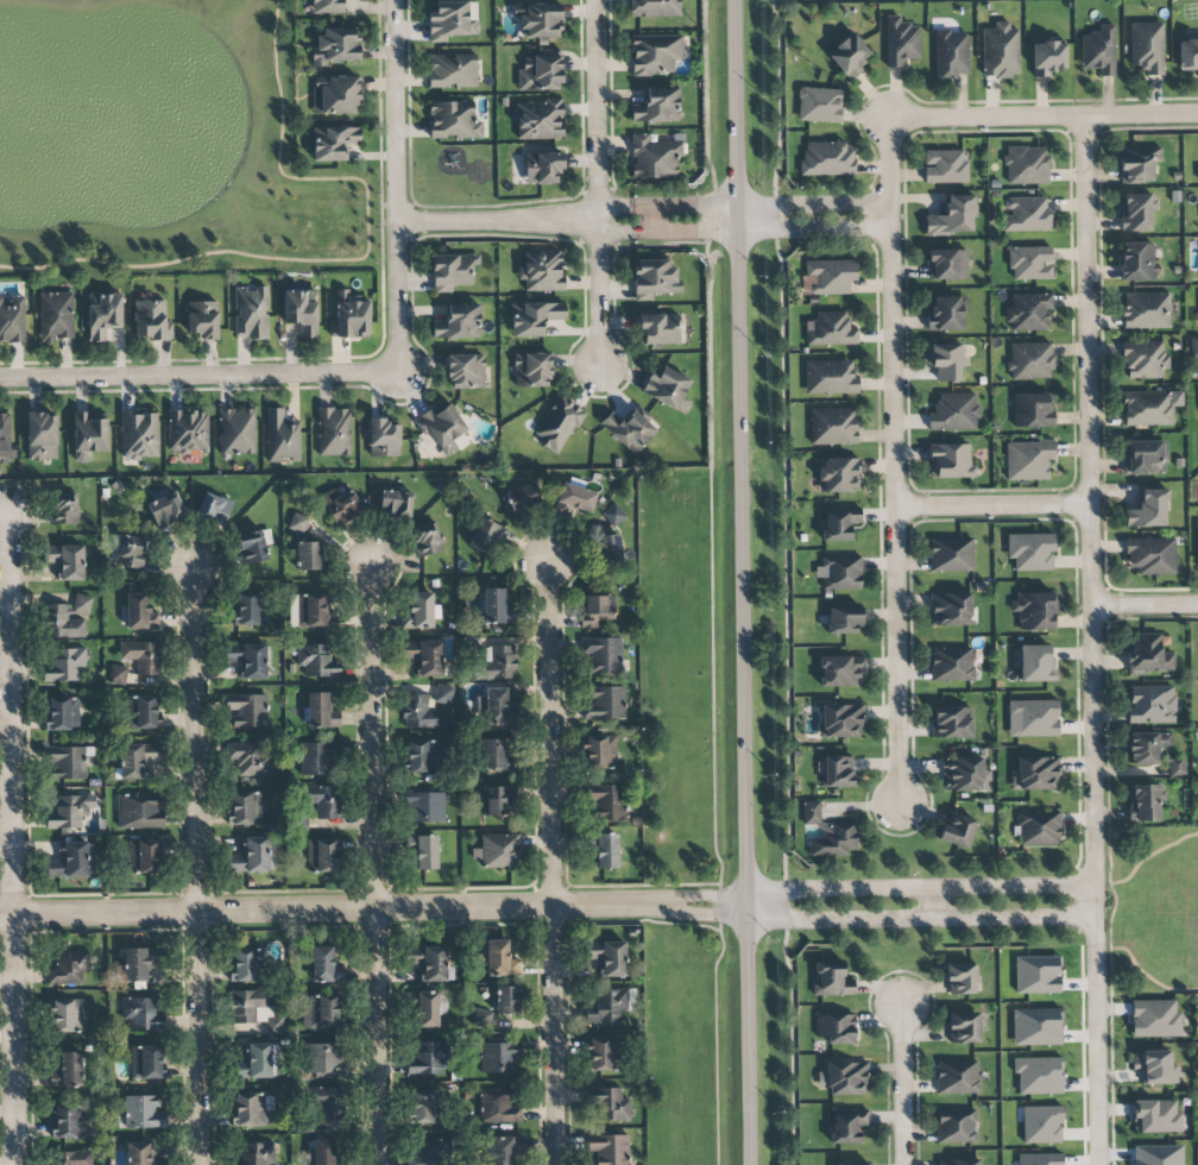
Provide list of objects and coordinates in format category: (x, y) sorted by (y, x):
building: (326, 6)
building: (655, 8)
building: (538, 19)
building: (453, 20)
building: (901, 42)
building: (336, 45)
building: (1147, 46)
building: (1000, 51)
building: (1099, 51)
building: (655, 53)
building: (951, 53)
building: (849, 55)
building: (1187, 55)
building: (1047, 57)
building: (453, 70)
building: (541, 73)
building: (335, 95)
road: (581, 95)
building: (819, 105)
building: (657, 106)
fountain: (81, 109)
road: (610, 112)
road: (1043, 118)
building: (538, 119)
building: (454, 120)
building: (333, 143)
building: (655, 156)
building: (827, 158)
building: (1137, 163)
building: (1027, 165)
building: (543, 166)
building: (945, 166)
building: (1197, 170)
road: (595, 182)
road: (395, 185)
road: (410, 187)
road: (664, 201)
road: (620, 202)
road: (398, 206)
road: (762, 206)
road: (613, 209)
building: (1135, 212)
building: (1026, 214)
building: (953, 216)
road: (651, 220)
road: (496, 221)
road: (763, 227)
road: (614, 229)
road: (670, 243)
road: (346, 259)
building: (1137, 262)
building: (1029, 263)
building: (946, 264)
building: (452, 271)
building: (542, 271)
building: (831, 276)
building: (654, 278)
building: (1146, 310)
building: (301, 311)
building: (1028, 311)
building: (251, 313)
building: (945, 313)
building: (102, 315)
building: (55, 316)
building: (349, 317)
building: (534, 317)
building: (12, 319)
building: (150, 319)
building: (202, 320)
building: (459, 322)
building: (660, 329)
building: (830, 329)
building: (1193, 346)
road: (365, 355)
building: (944, 360)
building: (1030, 360)
building: (1145, 360)
building: (532, 370)
building: (466, 371)
road: (198, 374)
building: (830, 377)
building: (668, 389)
road: (581, 391)
road: (376, 395)
building: (1150, 408)
building: (1033, 410)
building: (954, 413)
building: (557, 424)
building: (833, 426)
building: (441, 427)
building: (237, 430)
building: (630, 430)
building: (187, 432)
building: (334, 432)
building: (89, 435)
building: (139, 435)
building: (42, 436)
building: (282, 436)
building: (5, 437)
building: (383, 437)
building: (1145, 458)
building: (1028, 460)
road: (894, 461)
building: (950, 461)
building: (838, 474)
building: (522, 499)
building: (574, 499)
building: (396, 503)
building: (341, 505)
road: (992, 506)
building: (63, 508)
building: (214, 508)
building: (1148, 509)
building: (165, 510)
building: (612, 515)
building: (837, 522)
building: (297, 523)
building: (483, 535)
building: (425, 540)
building: (1197, 543)
building: (252, 547)
building: (610, 547)
building: (131, 552)
building: (1030, 552)
building: (951, 554)
building: (308, 555)
building: (1150, 555)
building: (68, 561)
building: (841, 573)
road: (711, 581)
road: (744, 581)
road: (1145, 604)
building: (493, 606)
building: (951, 609)
building: (248, 610)
building: (311, 610)
building: (421, 610)
building: (597, 610)
building: (1034, 611)
building: (140, 612)
building: (68, 618)
building: (844, 621)
road: (1091, 641)
building: (1149, 654)
building: (604, 655)
building: (141, 656)
building: (424, 656)
building: (316, 659)
building: (248, 660)
building: (499, 663)
building: (1034, 663)
building: (64, 665)
building: (952, 665)
building: (839, 670)
building: (118, 675)
building: (443, 694)
building: (606, 704)
building: (1152, 705)
building: (496, 706)
building: (248, 710)
building: (316, 710)
building: (146, 712)
building: (420, 713)
building: (62, 714)
building: (1033, 718)
building: (840, 720)
building: (952, 723)
building: (1147, 747)
building: (600, 751)
building: (497, 754)
building: (425, 756)
building: (320, 757)
building: (250, 758)
building: (137, 760)
building: (68, 762)
building: (1175, 767)
building: (837, 772)
building: (1034, 774)
building: (965, 775)
building: (323, 800)
building: (498, 800)
building: (606, 802)
building: (1145, 802)
building: (425, 807)
building: (245, 808)
building: (140, 811)
building: (68, 813)
building: (1038, 827)
building: (957, 830)
road: (8, 839)
building: (424, 851)
building: (498, 851)
building: (606, 851)
building: (143, 856)
building: (253, 856)
building: (322, 856)
road: (1142, 858)
building: (74, 861)
road: (549, 864)
road: (373, 867)
road: (195, 868)
road: (922, 888)
road: (696, 896)
road: (927, 902)
road: (322, 911)
road: (696, 914)
road: (922, 917)
building: (611, 958)
building: (500, 959)
building: (429, 962)
building: (246, 965)
building: (324, 965)
building: (69, 966)
building: (135, 966)
road: (1142, 972)
building: (1038, 974)
building: (960, 978)
building: (832, 980)
building: (505, 1000)
building: (610, 1005)
building: (256, 1009)
building: (425, 1009)
building: (321, 1010)
building: (143, 1014)
building: (67, 1015)
building: (481, 1018)
building: (1155, 1019)
building: (1036, 1026)
building: (963, 1027)
building: (836, 1028)
building: (603, 1053)
building: (499, 1057)
building: (326, 1059)
building: (425, 1059)
building: (146, 1062)
building: (259, 1062)
building: (1155, 1066)
building: (68, 1070)
building: (1039, 1075)
building: (957, 1077)
building: (844, 1078)
road: (902, 1085)
building: (327, 1102)
building: (607, 1104)
building: (421, 1107)
building: (497, 1107)
building: (252, 1109)
building: (143, 1113)
building: (1156, 1116)
building: (68, 1121)
building: (846, 1125)
building: (1041, 1125)
building: (957, 1126)
building: (609, 1148)
building: (505, 1150)
building: (322, 1152)
building: (430, 1152)
building: (140, 1154)
building: (254, 1154)
building: (1158, 1155)
building: (71, 1158)
building: (1040, 1159)
building: (959, 1161)
building: (851, 1163)

